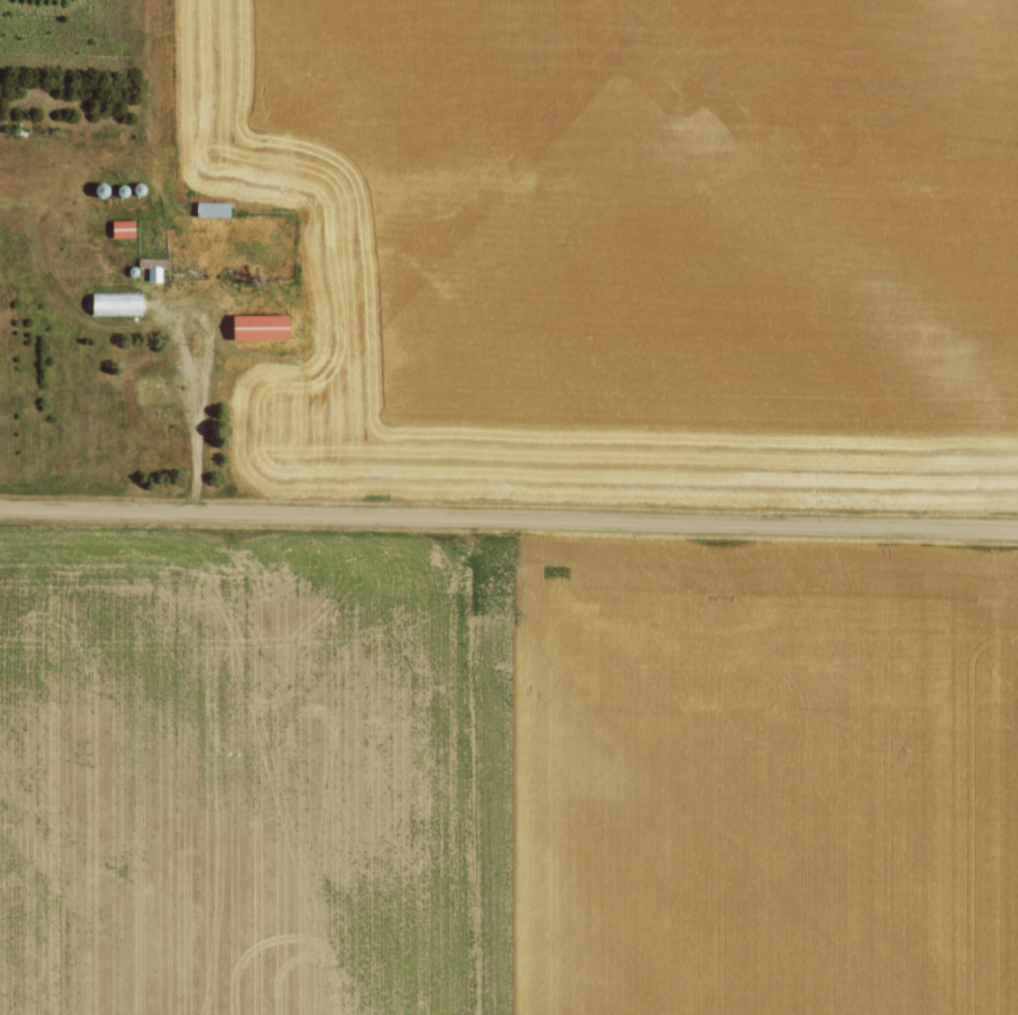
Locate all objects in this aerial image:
silo: (140, 188)
silo: (100, 189)
silo: (123, 189)
building: (211, 207)
building: (121, 227)
crop: (622, 244)
silo: (132, 269)
building: (154, 272)
building: (114, 302)
building: (257, 328)
road: (177, 354)
road: (200, 378)
road: (509, 517)
crop: (504, 774)

